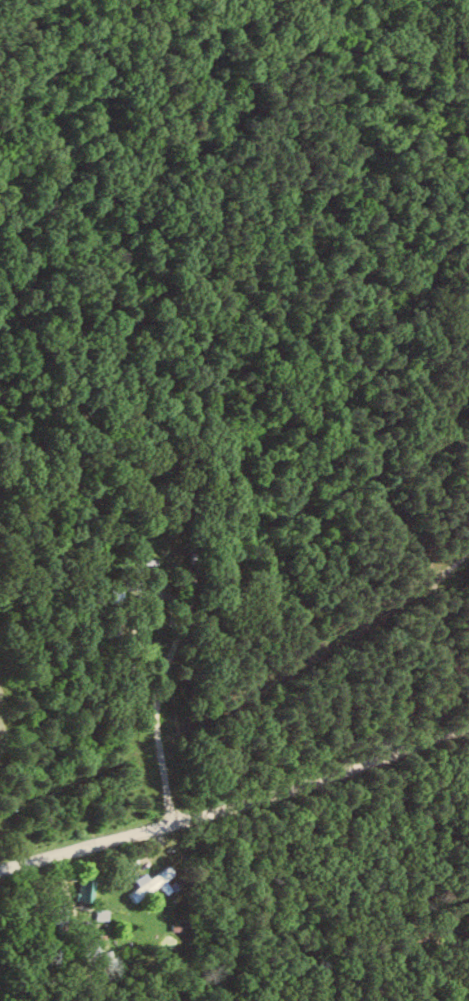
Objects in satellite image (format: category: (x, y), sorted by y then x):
road: (171, 591)
road: (163, 800)
road: (236, 802)
building: (153, 883)
building: (86, 889)
building: (102, 914)

